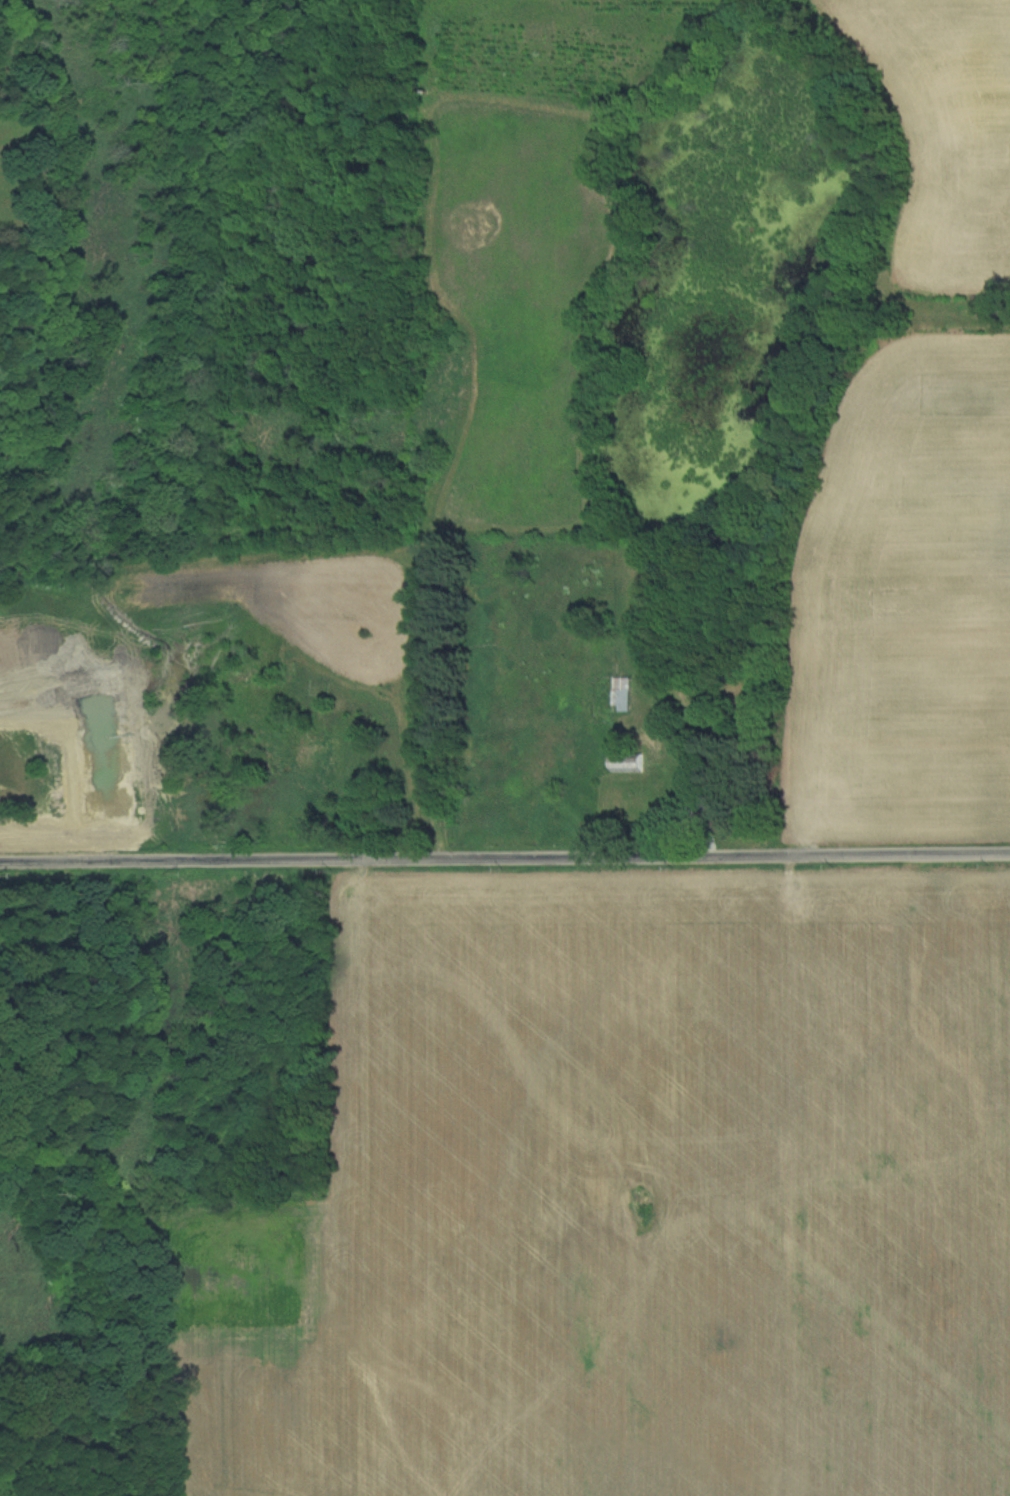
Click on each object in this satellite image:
building: (620, 694)
road: (504, 859)

